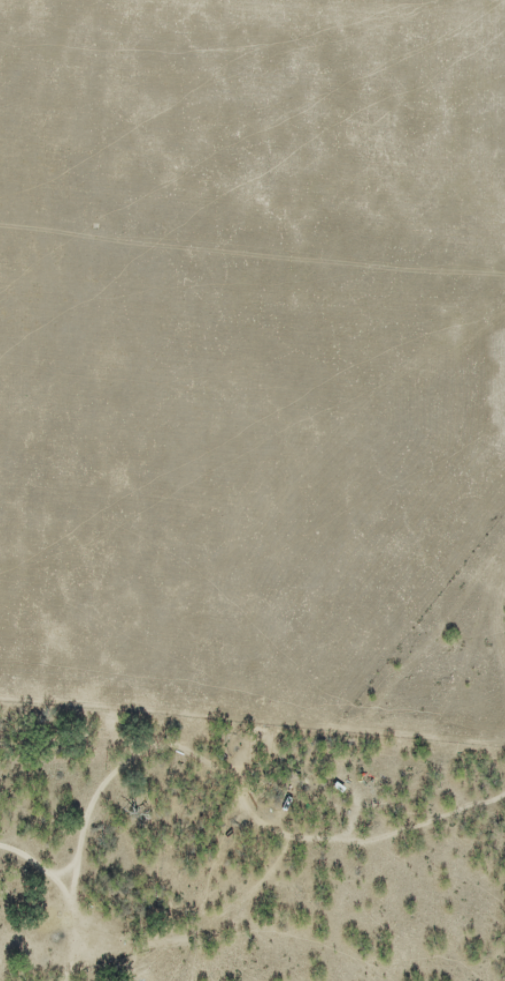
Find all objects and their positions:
road: (162, 744)

